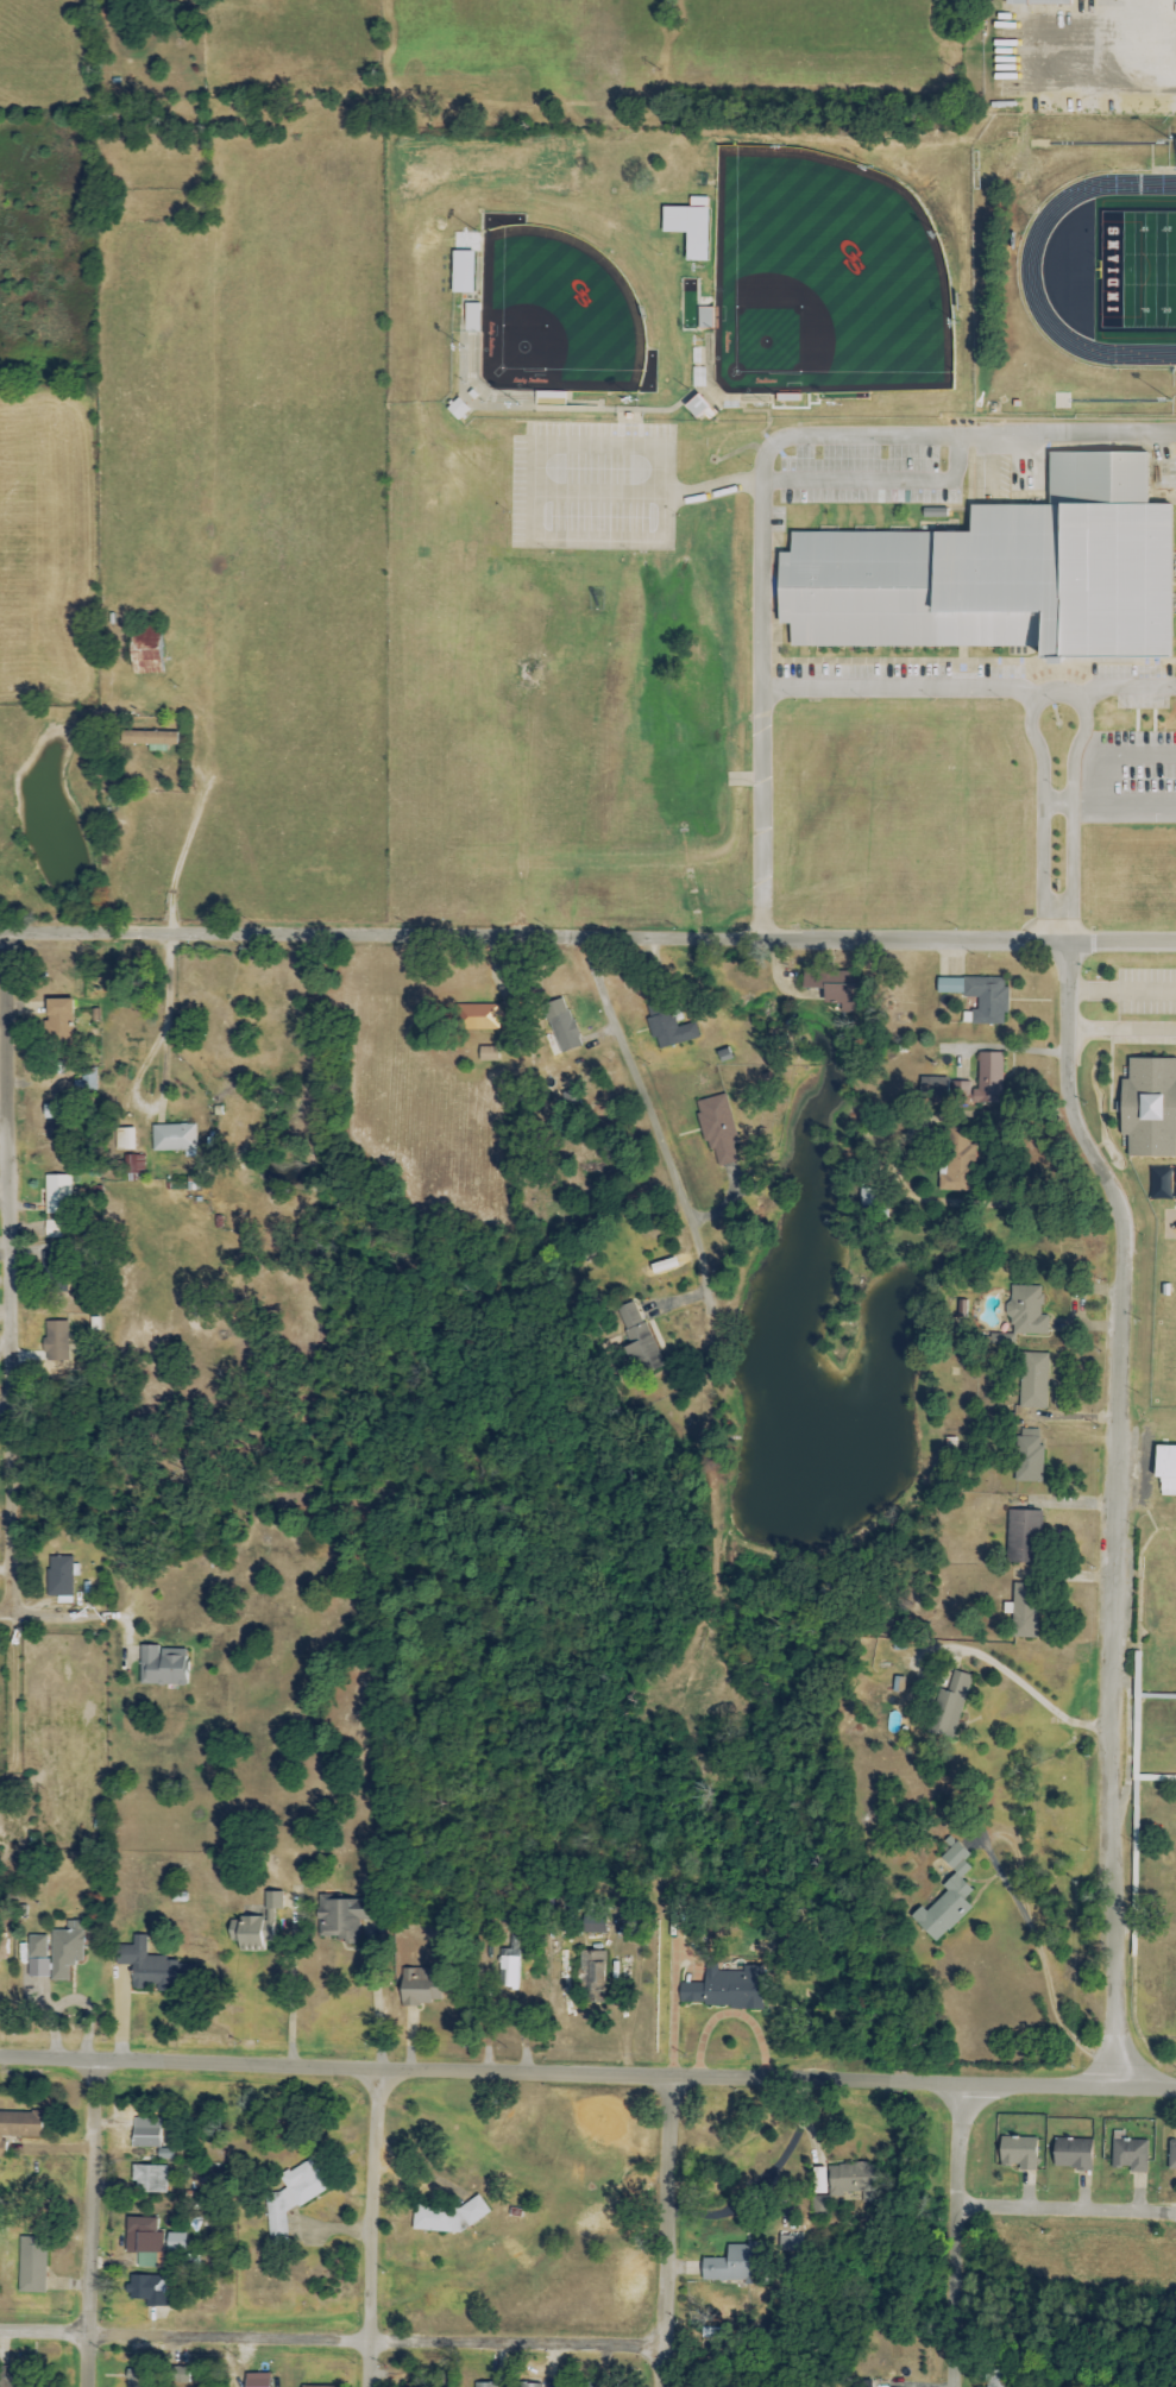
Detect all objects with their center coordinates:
building: (1037, 2)
power tower: (955, 69)
power tower: (376, 71)
power tower: (654, 71)
power tower: (92, 73)
road: (1115, 87)
building: (688, 227)
building: (460, 271)
building: (471, 317)
building: (458, 409)
road: (850, 433)
road: (879, 480)
building: (998, 573)
building: (145, 651)
road: (967, 685)
building: (149, 738)
road: (1119, 751)
road: (1040, 799)
road: (1056, 799)
road: (1071, 799)
road: (1124, 799)
road: (760, 813)
road: (1057, 925)
road: (587, 941)
building: (832, 987)
road: (1120, 987)
building: (980, 996)
building: (59, 1013)
building: (479, 1018)
building: (562, 1025)
road: (1120, 1026)
building: (671, 1032)
building: (488, 1054)
road: (145, 1062)
building: (983, 1081)
building: (933, 1084)
building: (1149, 1107)
road: (655, 1126)
building: (718, 1129)
building: (125, 1138)
building: (175, 1139)
building: (957, 1161)
building: (1159, 1184)
building: (1175, 1190)
road: (2, 1193)
building: (57, 1195)
building: (866, 1197)
road: (979, 1201)
building: (52, 1228)
road: (6, 1267)
building: (1026, 1311)
building: (637, 1337)
building: (1000, 1340)
building: (57, 1341)
building: (1033, 1380)
road: (2, 1404)
building: (1029, 1455)
building: (1165, 1469)
road: (1113, 1507)
building: (1023, 1536)
building: (61, 1575)
road: (4, 1606)
building: (1023, 1611)
road: (76, 1616)
building: (163, 1665)
building: (899, 1684)
road: (1032, 1690)
road: (13, 1701)
building: (952, 1706)
building: (947, 1897)
building: (340, 1916)
building: (595, 1923)
building: (254, 1925)
building: (2, 1946)
building: (55, 1952)
road: (1043, 1960)
building: (152, 1967)
building: (592, 1976)
building: (419, 1985)
road: (293, 1988)
building: (725, 1988)
road: (376, 1997)
road: (73, 2001)
road: (587, 2073)
building: (19, 2125)
building: (146, 2136)
building: (1018, 2152)
building: (165, 2154)
building: (1073, 2154)
building: (1131, 2154)
building: (1172, 2156)
building: (150, 2179)
building: (855, 2180)
road: (766, 2184)
building: (293, 2197)
road: (1065, 2204)
building: (820, 2209)
building: (444, 2217)
road: (90, 2223)
road: (373, 2227)
road: (662, 2230)
road: (955, 2235)
building: (177, 2242)
building: (791, 2243)
building: (736, 2265)
building: (32, 2266)
building: (150, 2291)
road: (329, 2342)
building: (19, 2375)
building: (998, 2379)
building: (134, 2380)
building: (257, 2380)
building: (485, 2385)
building: (533, 2385)
building: (586, 2385)
building: (320, 2386)

